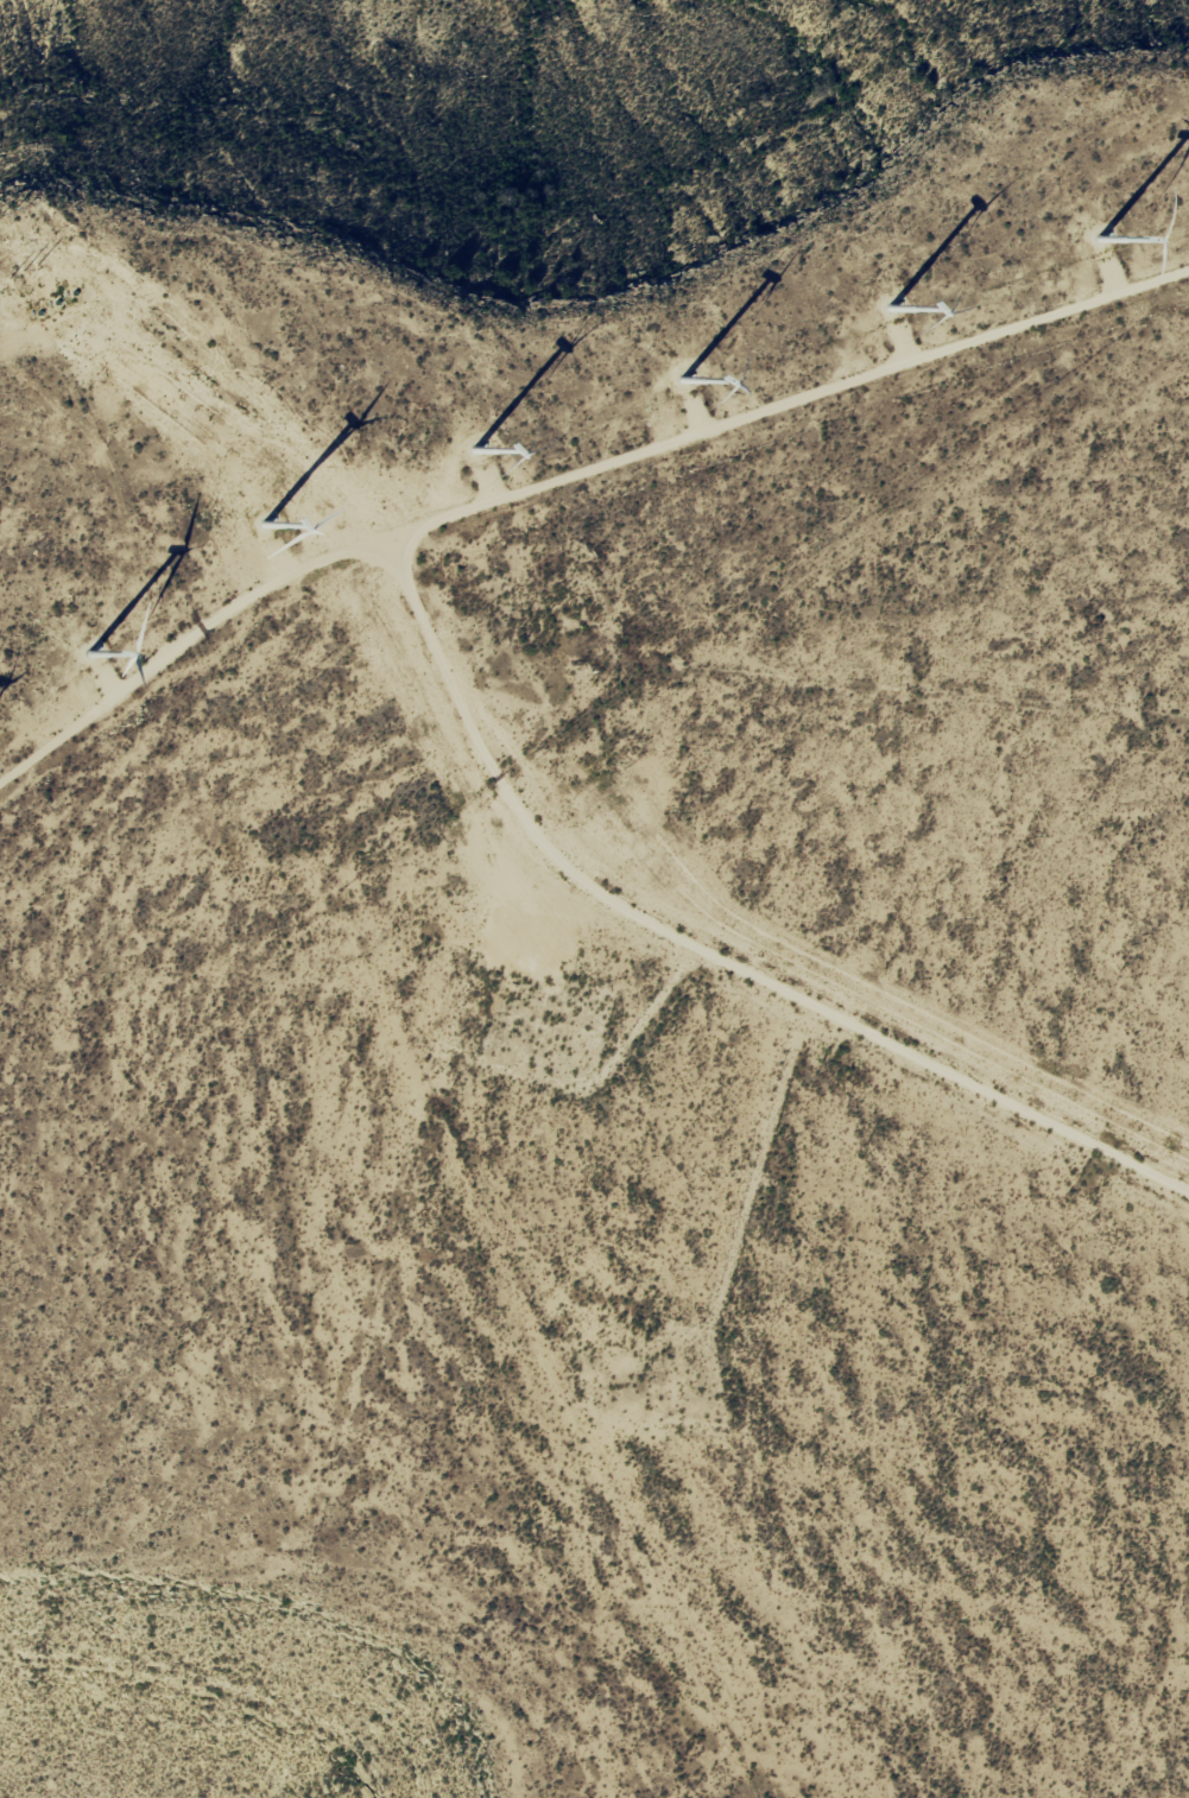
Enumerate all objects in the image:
wind turbine: (1101, 234)
wind turbine: (890, 324)
wind turbine: (689, 382)
wind turbine: (482, 456)
wind turbine: (265, 546)
wind turbine: (101, 666)
road: (725, 1019)

